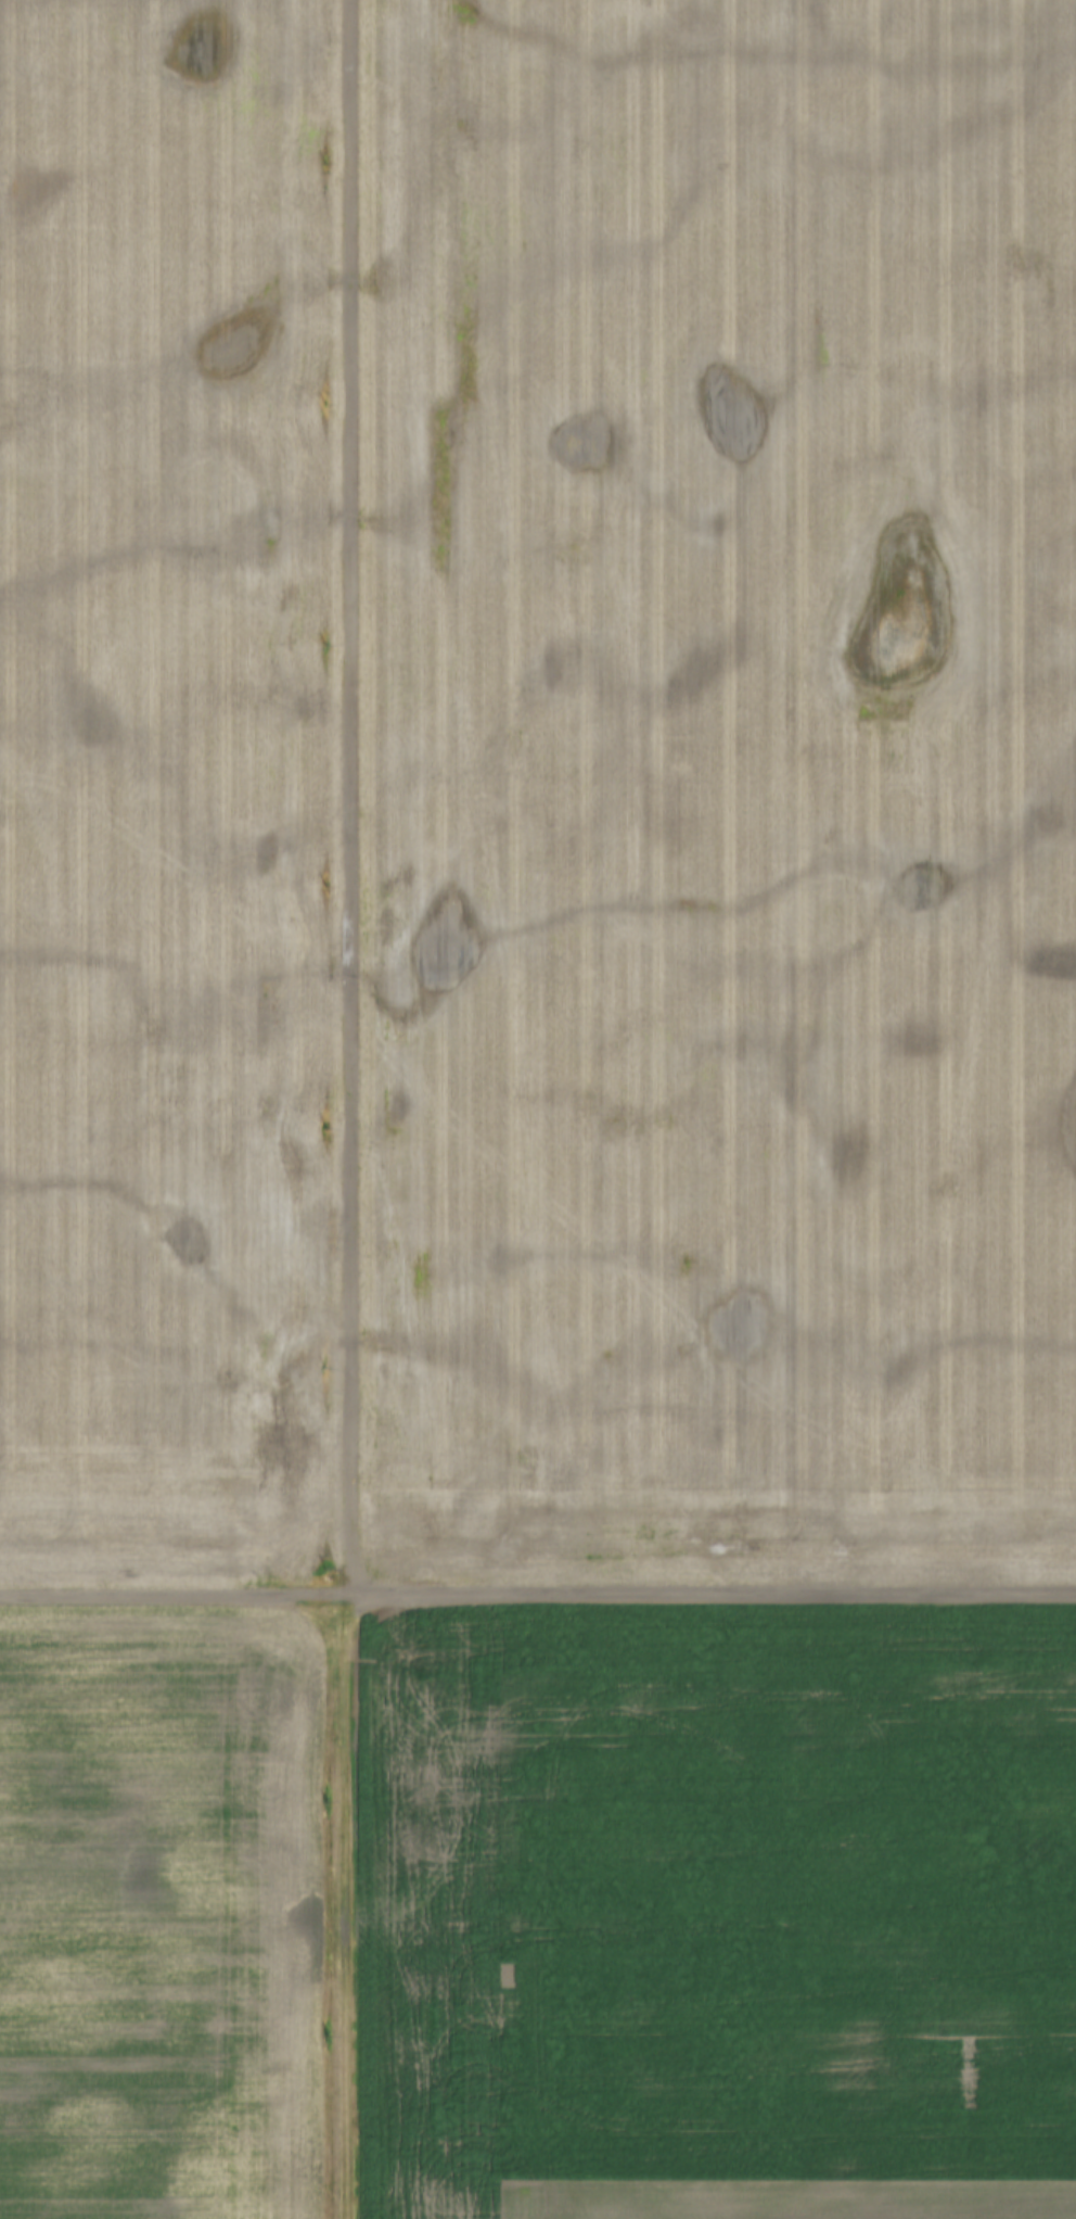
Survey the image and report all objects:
road: (351, 1109)
road: (538, 1597)

